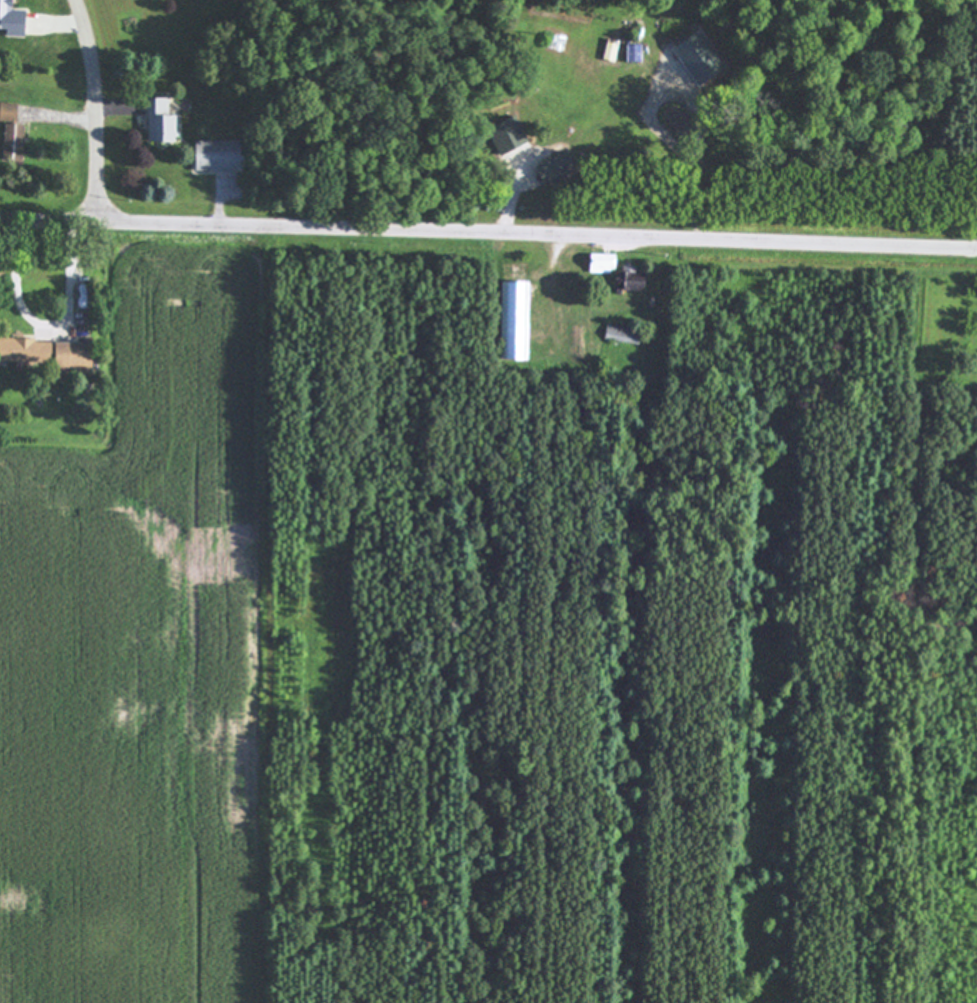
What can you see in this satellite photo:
building: (14, 18)
road: (60, 19)
building: (701, 57)
road: (115, 107)
road: (99, 109)
road: (65, 117)
building: (163, 121)
building: (14, 132)
building: (510, 136)
building: (219, 155)
building: (558, 167)
road: (515, 196)
road: (488, 231)
building: (604, 262)
building: (634, 280)
building: (514, 319)
road: (54, 325)
building: (624, 334)
building: (27, 351)
building: (76, 355)

